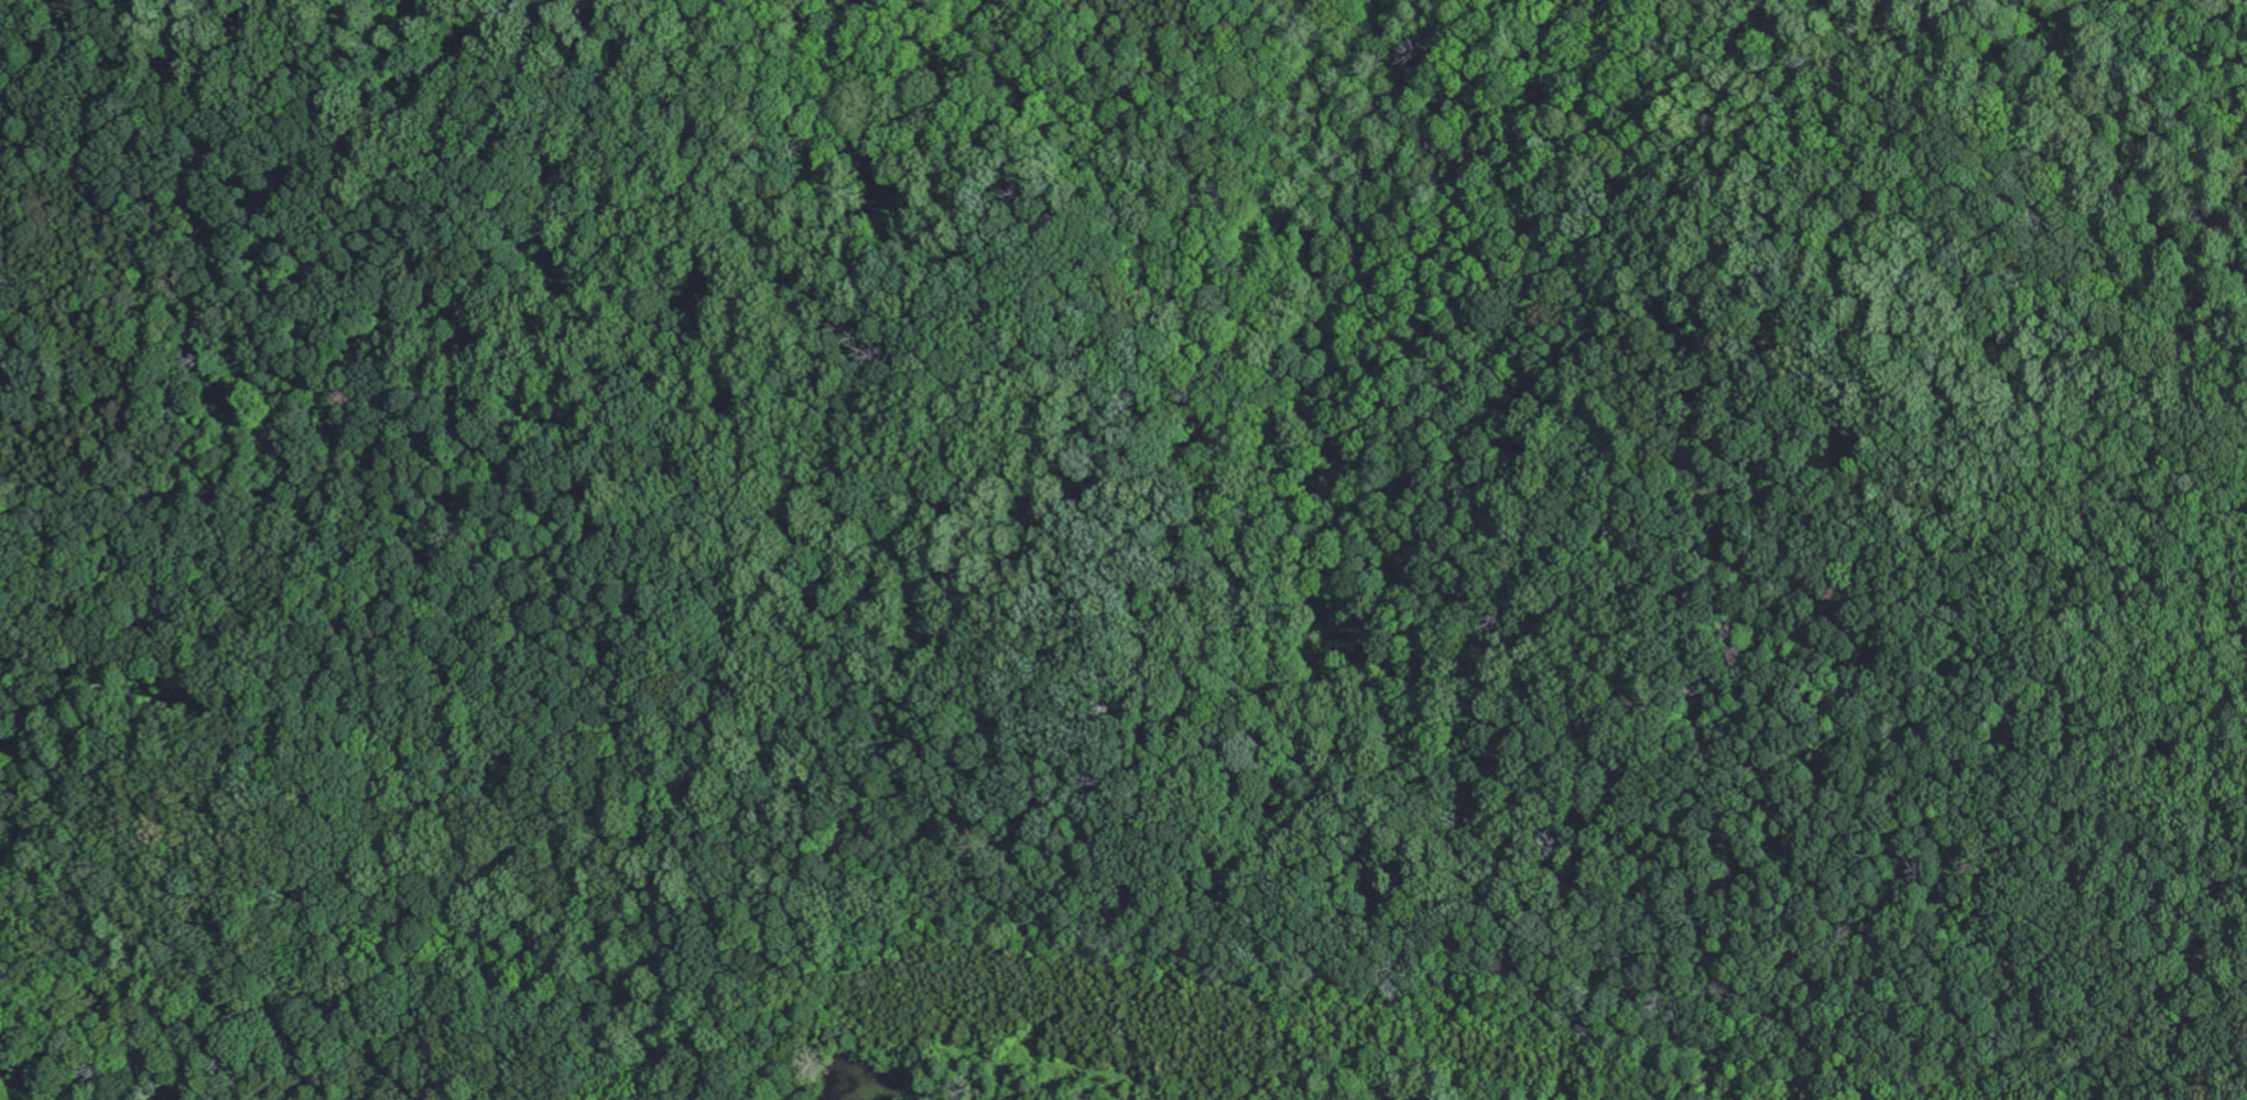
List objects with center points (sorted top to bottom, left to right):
road: (805, 846)
road: (1259, 894)

